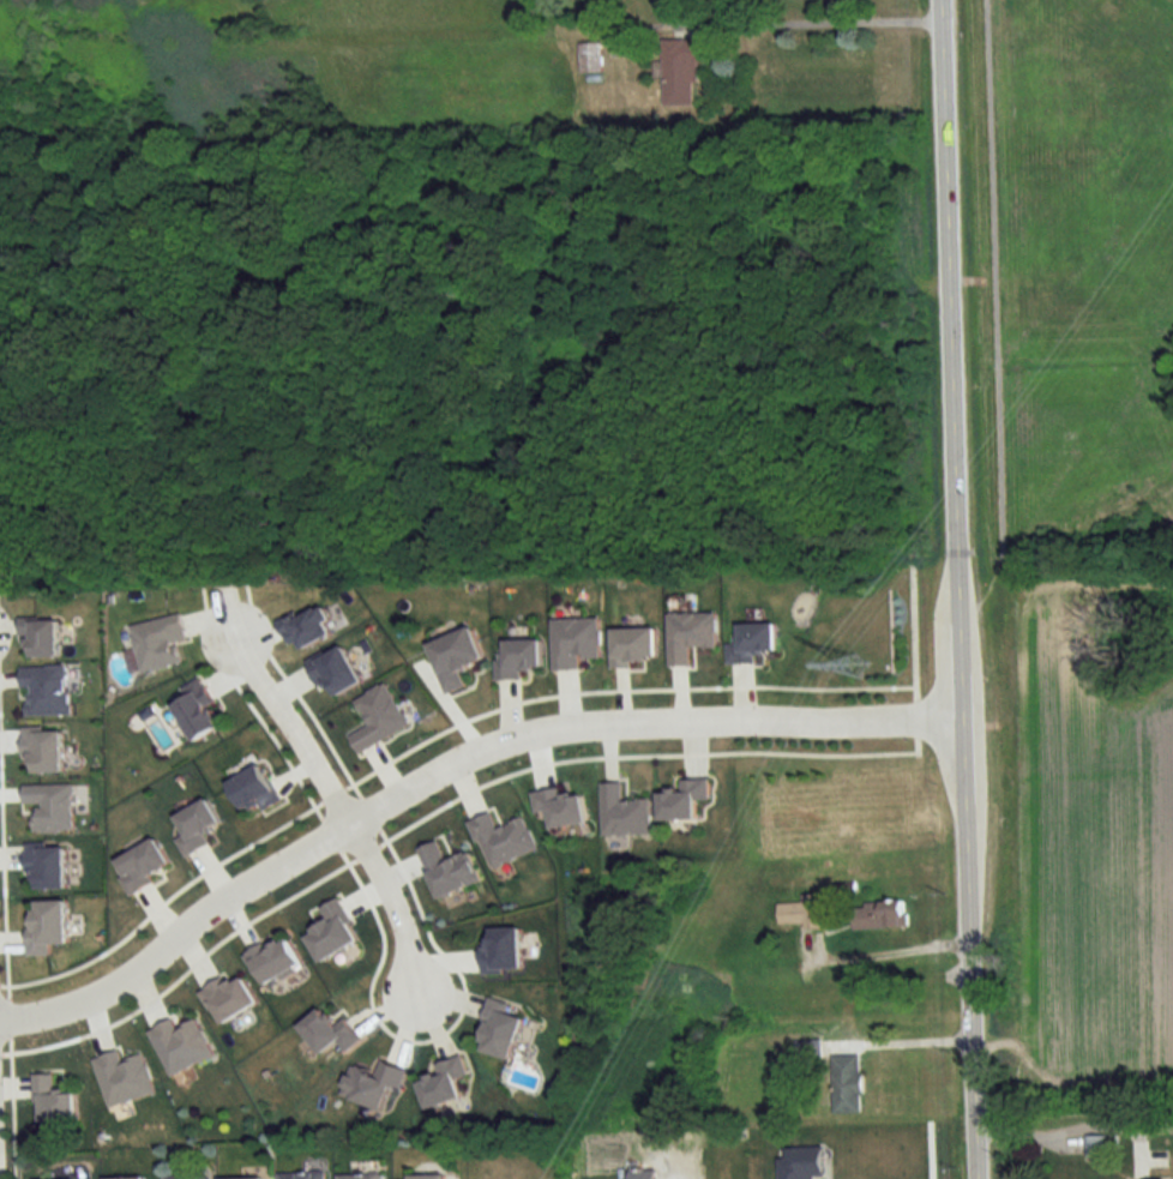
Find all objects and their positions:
road: (826, 19)
building: (589, 58)
building: (680, 71)
road: (956, 589)
building: (688, 634)
building: (157, 642)
building: (575, 642)
building: (752, 642)
building: (633, 644)
building: (455, 657)
power tower: (859, 667)
building: (335, 670)
building: (46, 690)
building: (197, 710)
road: (291, 730)
building: (44, 748)
road: (444, 764)
building: (682, 799)
building: (560, 806)
building: (624, 812)
crop: (1093, 837)
building: (802, 912)
road: (395, 914)
building: (878, 914)
road: (884, 951)
building: (275, 958)
building: (229, 997)
building: (499, 1030)
building: (329, 1031)
building: (181, 1045)
building: (122, 1078)
building: (443, 1082)
building: (847, 1083)
building: (373, 1084)
building: (53, 1100)
road: (1072, 1131)
building: (1096, 1147)
building: (303, 1175)
building: (187, 1177)
building: (361, 1177)
building: (427, 1177)
building: (125, 1178)
building: (247, 1178)

